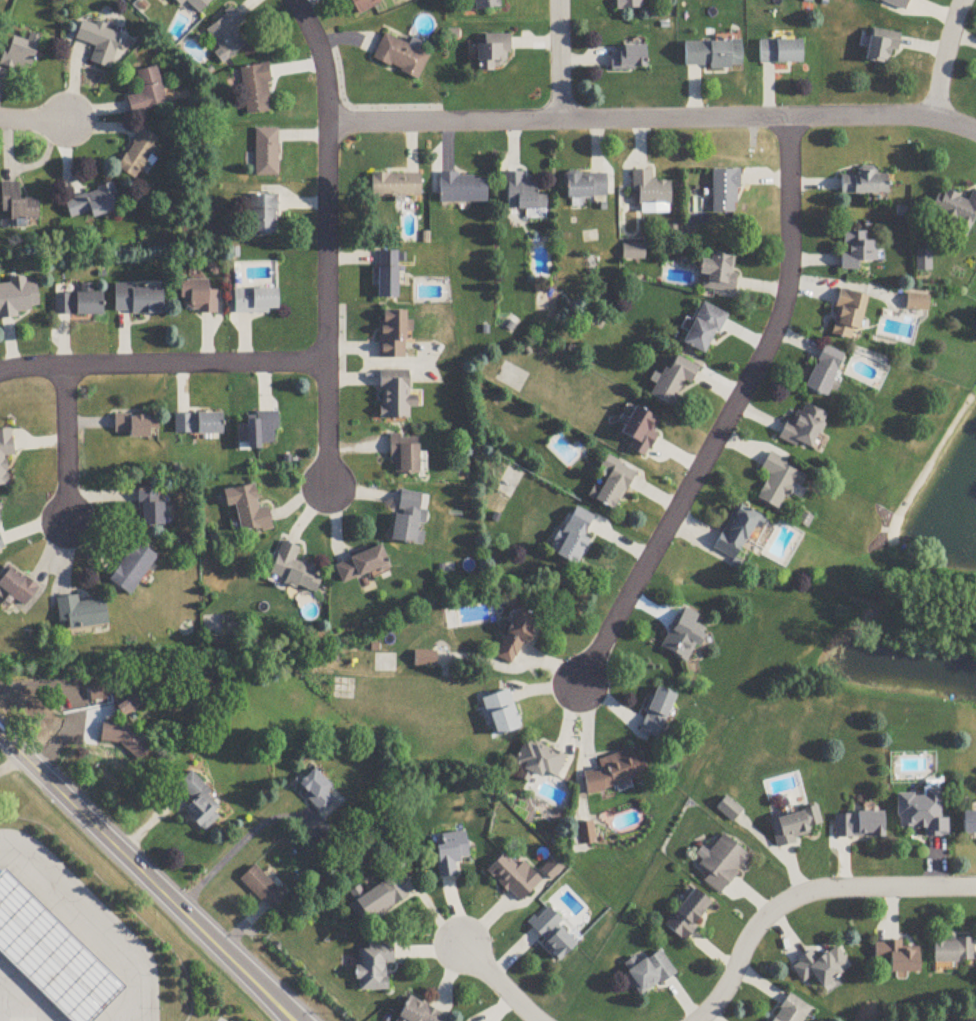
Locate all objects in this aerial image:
building: (896, 3)
building: (194, 4)
building: (628, 4)
building: (365, 5)
building: (485, 5)
building: (226, 37)
building: (98, 43)
building: (881, 48)
building: (780, 52)
building: (493, 53)
building: (17, 55)
building: (712, 55)
building: (400, 57)
building: (627, 58)
road: (945, 58)
road: (560, 59)
building: (256, 90)
building: (147, 93)
road: (652, 119)
road: (33, 122)
building: (266, 153)
building: (138, 156)
building: (865, 184)
building: (395, 187)
building: (585, 187)
building: (462, 190)
building: (650, 191)
building: (725, 192)
building: (523, 194)
building: (17, 205)
building: (92, 205)
building: (958, 212)
building: (263, 215)
road: (326, 242)
building: (857, 252)
building: (718, 275)
building: (387, 277)
building: (19, 299)
building: (196, 299)
building: (138, 302)
building: (255, 302)
building: (917, 304)
building: (78, 306)
building: (847, 316)
building: (703, 330)
building: (392, 336)
road: (163, 365)
building: (824, 373)
building: (674, 383)
building: (396, 400)
road: (729, 414)
building: (197, 426)
building: (135, 427)
building: (804, 429)
building: (640, 432)
building: (258, 434)
road: (66, 446)
building: (5, 455)
building: (403, 455)
building: (778, 484)
building: (610, 485)
building: (150, 509)
building: (247, 511)
building: (408, 521)
building: (736, 535)
building: (574, 538)
building: (361, 567)
building: (132, 570)
building: (293, 570)
building: (16, 589)
building: (80, 613)
building: (517, 637)
building: (683, 637)
building: (424, 660)
building: (128, 706)
building: (501, 714)
building: (656, 715)
building: (124, 739)
building: (538, 761)
road: (10, 764)
building: (615, 772)
building: (316, 790)
building: (197, 802)
building: (922, 813)
building: (969, 823)
building: (858, 825)
building: (794, 826)
building: (585, 834)
road: (236, 848)
building: (449, 853)
building: (722, 864)
building: (552, 870)
building: (513, 878)
road: (145, 879)
building: (262, 888)
road: (806, 895)
building: (377, 899)
building: (687, 915)
building: (553, 933)
building: (953, 951)
building: (51, 955)
building: (897, 957)
building: (373, 967)
building: (821, 967)
building: (650, 973)
road: (501, 984)
building: (792, 1011)
building: (418, 1013)
parking lot: (223, 1018)

